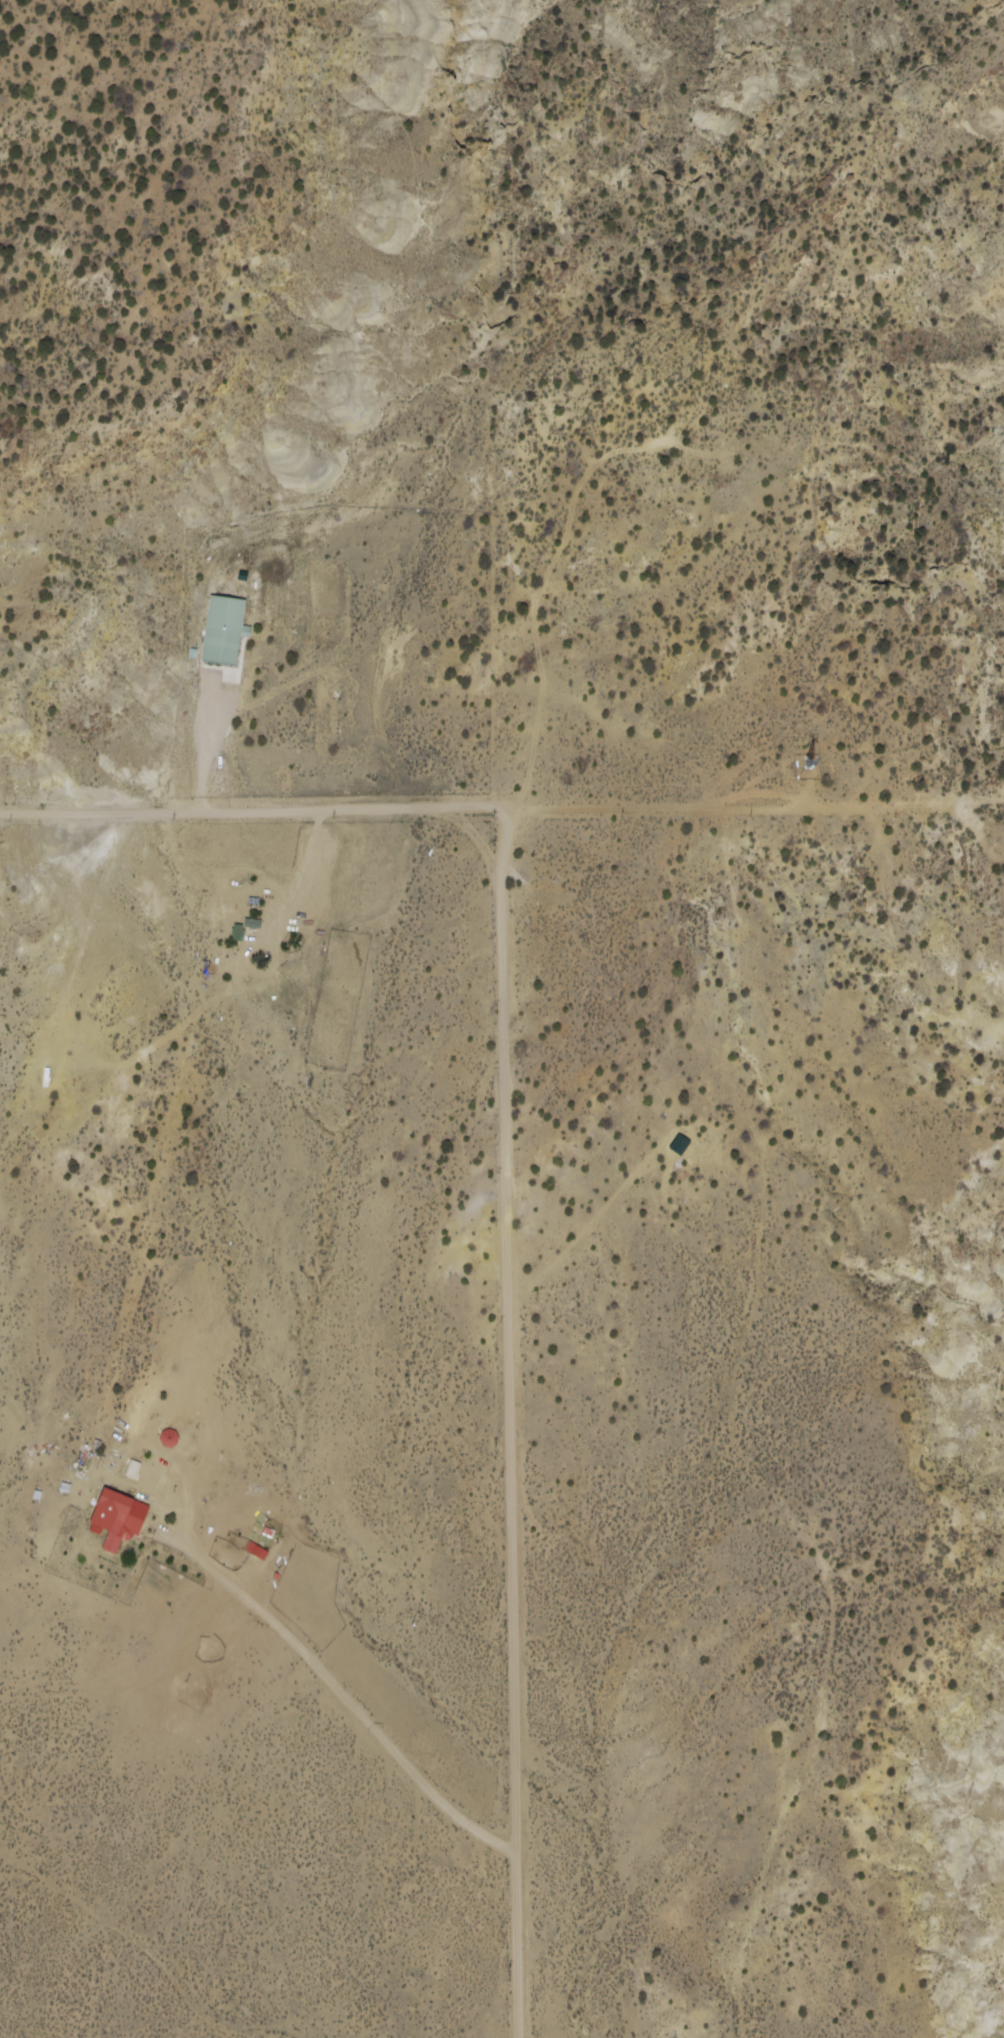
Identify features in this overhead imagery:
building: (225, 631)
road: (755, 810)
road: (504, 1171)
building: (87, 1458)
building: (120, 1530)
road: (122, 1951)

